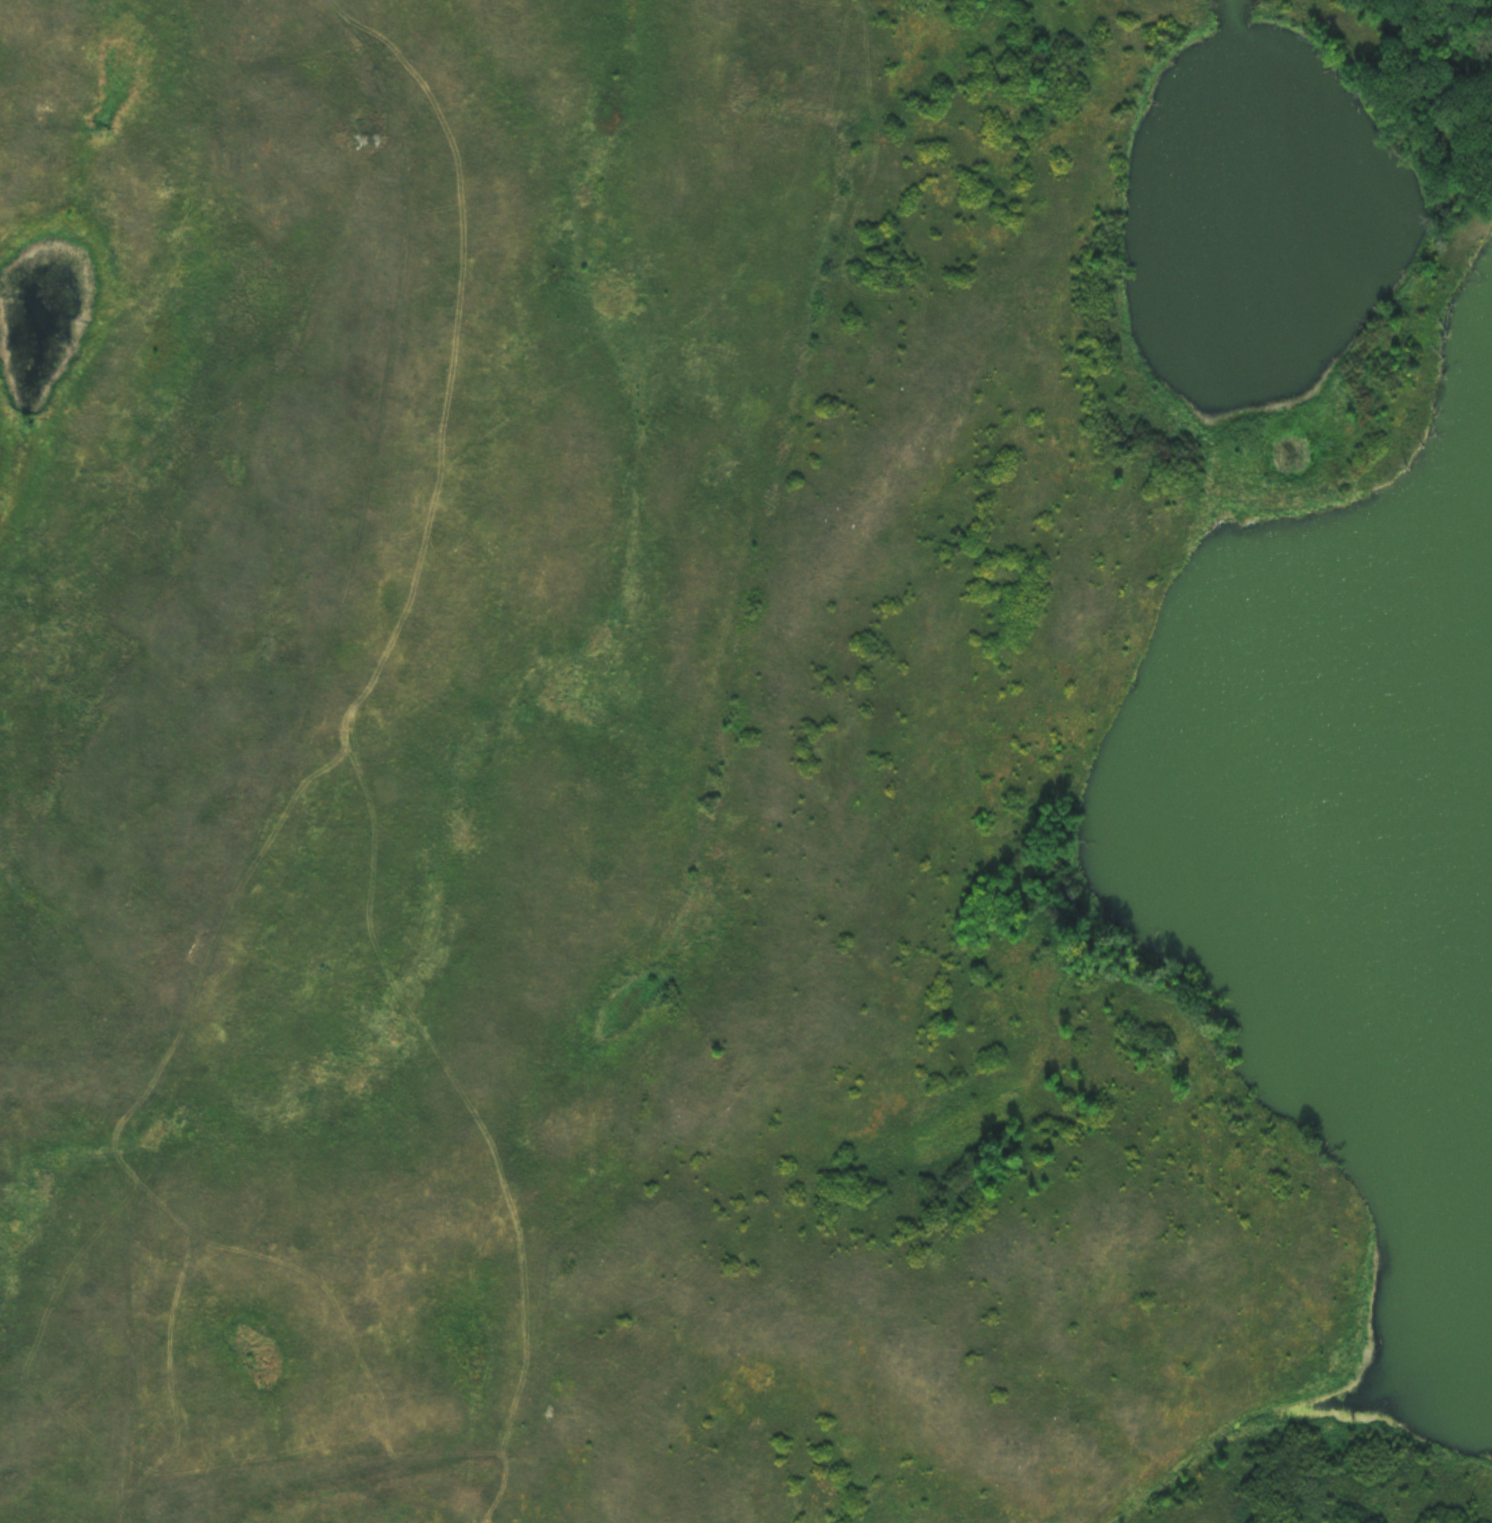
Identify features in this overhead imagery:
road: (290, 757)

